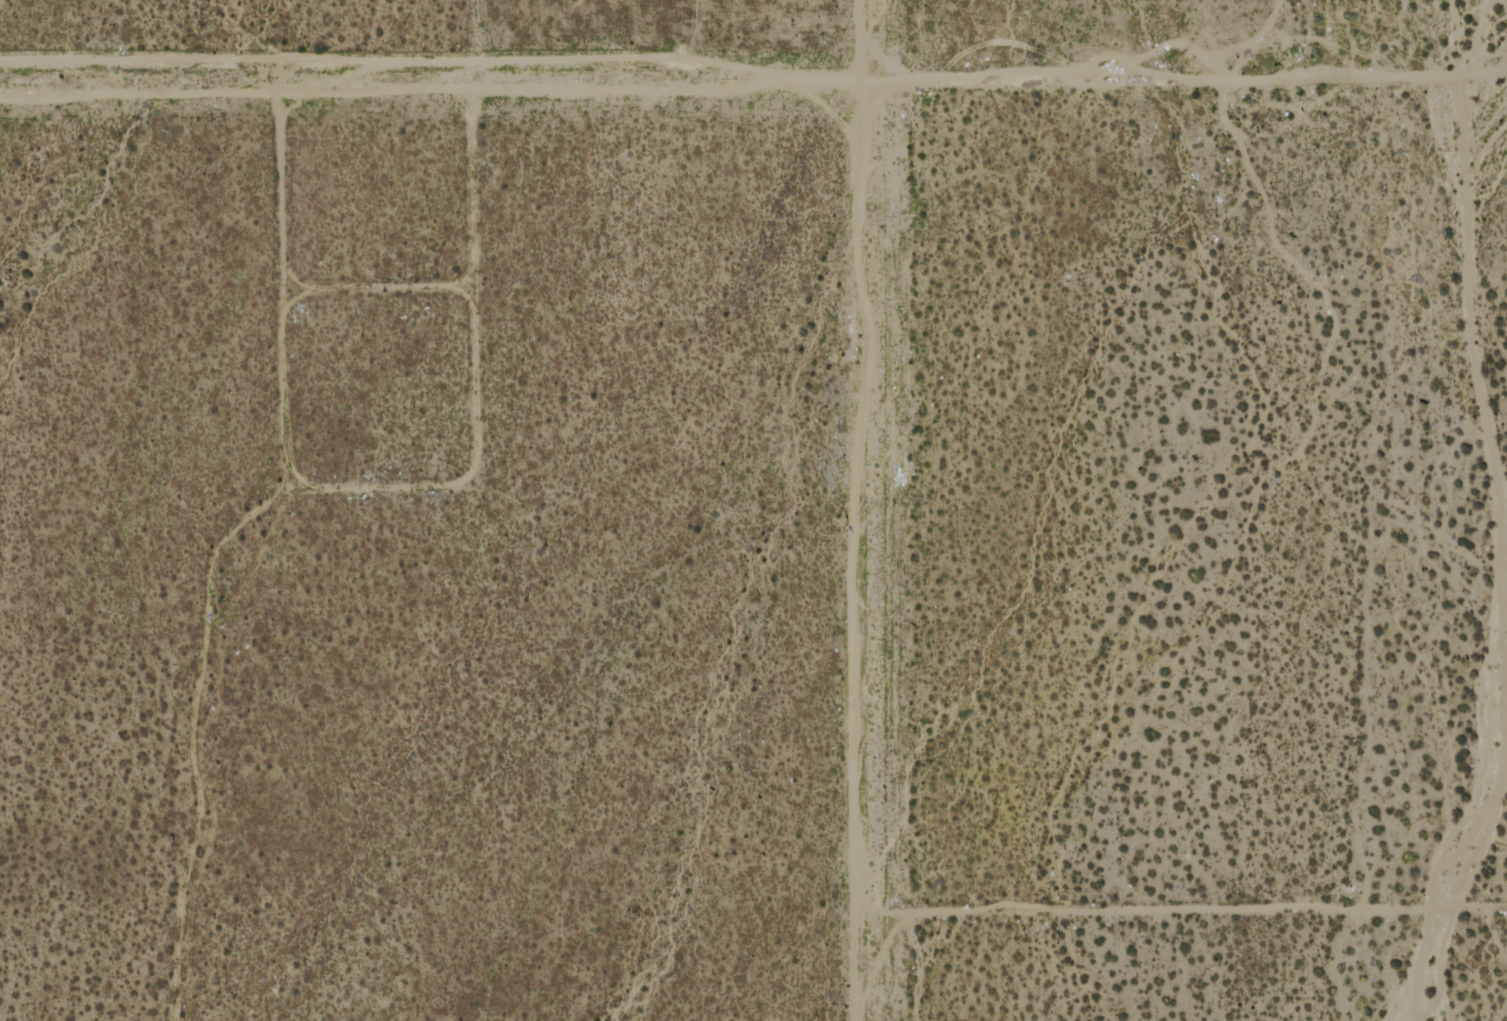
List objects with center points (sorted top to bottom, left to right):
road: (470, 33)
road: (234, 63)
road: (987, 80)
road: (873, 510)
road: (1189, 908)

